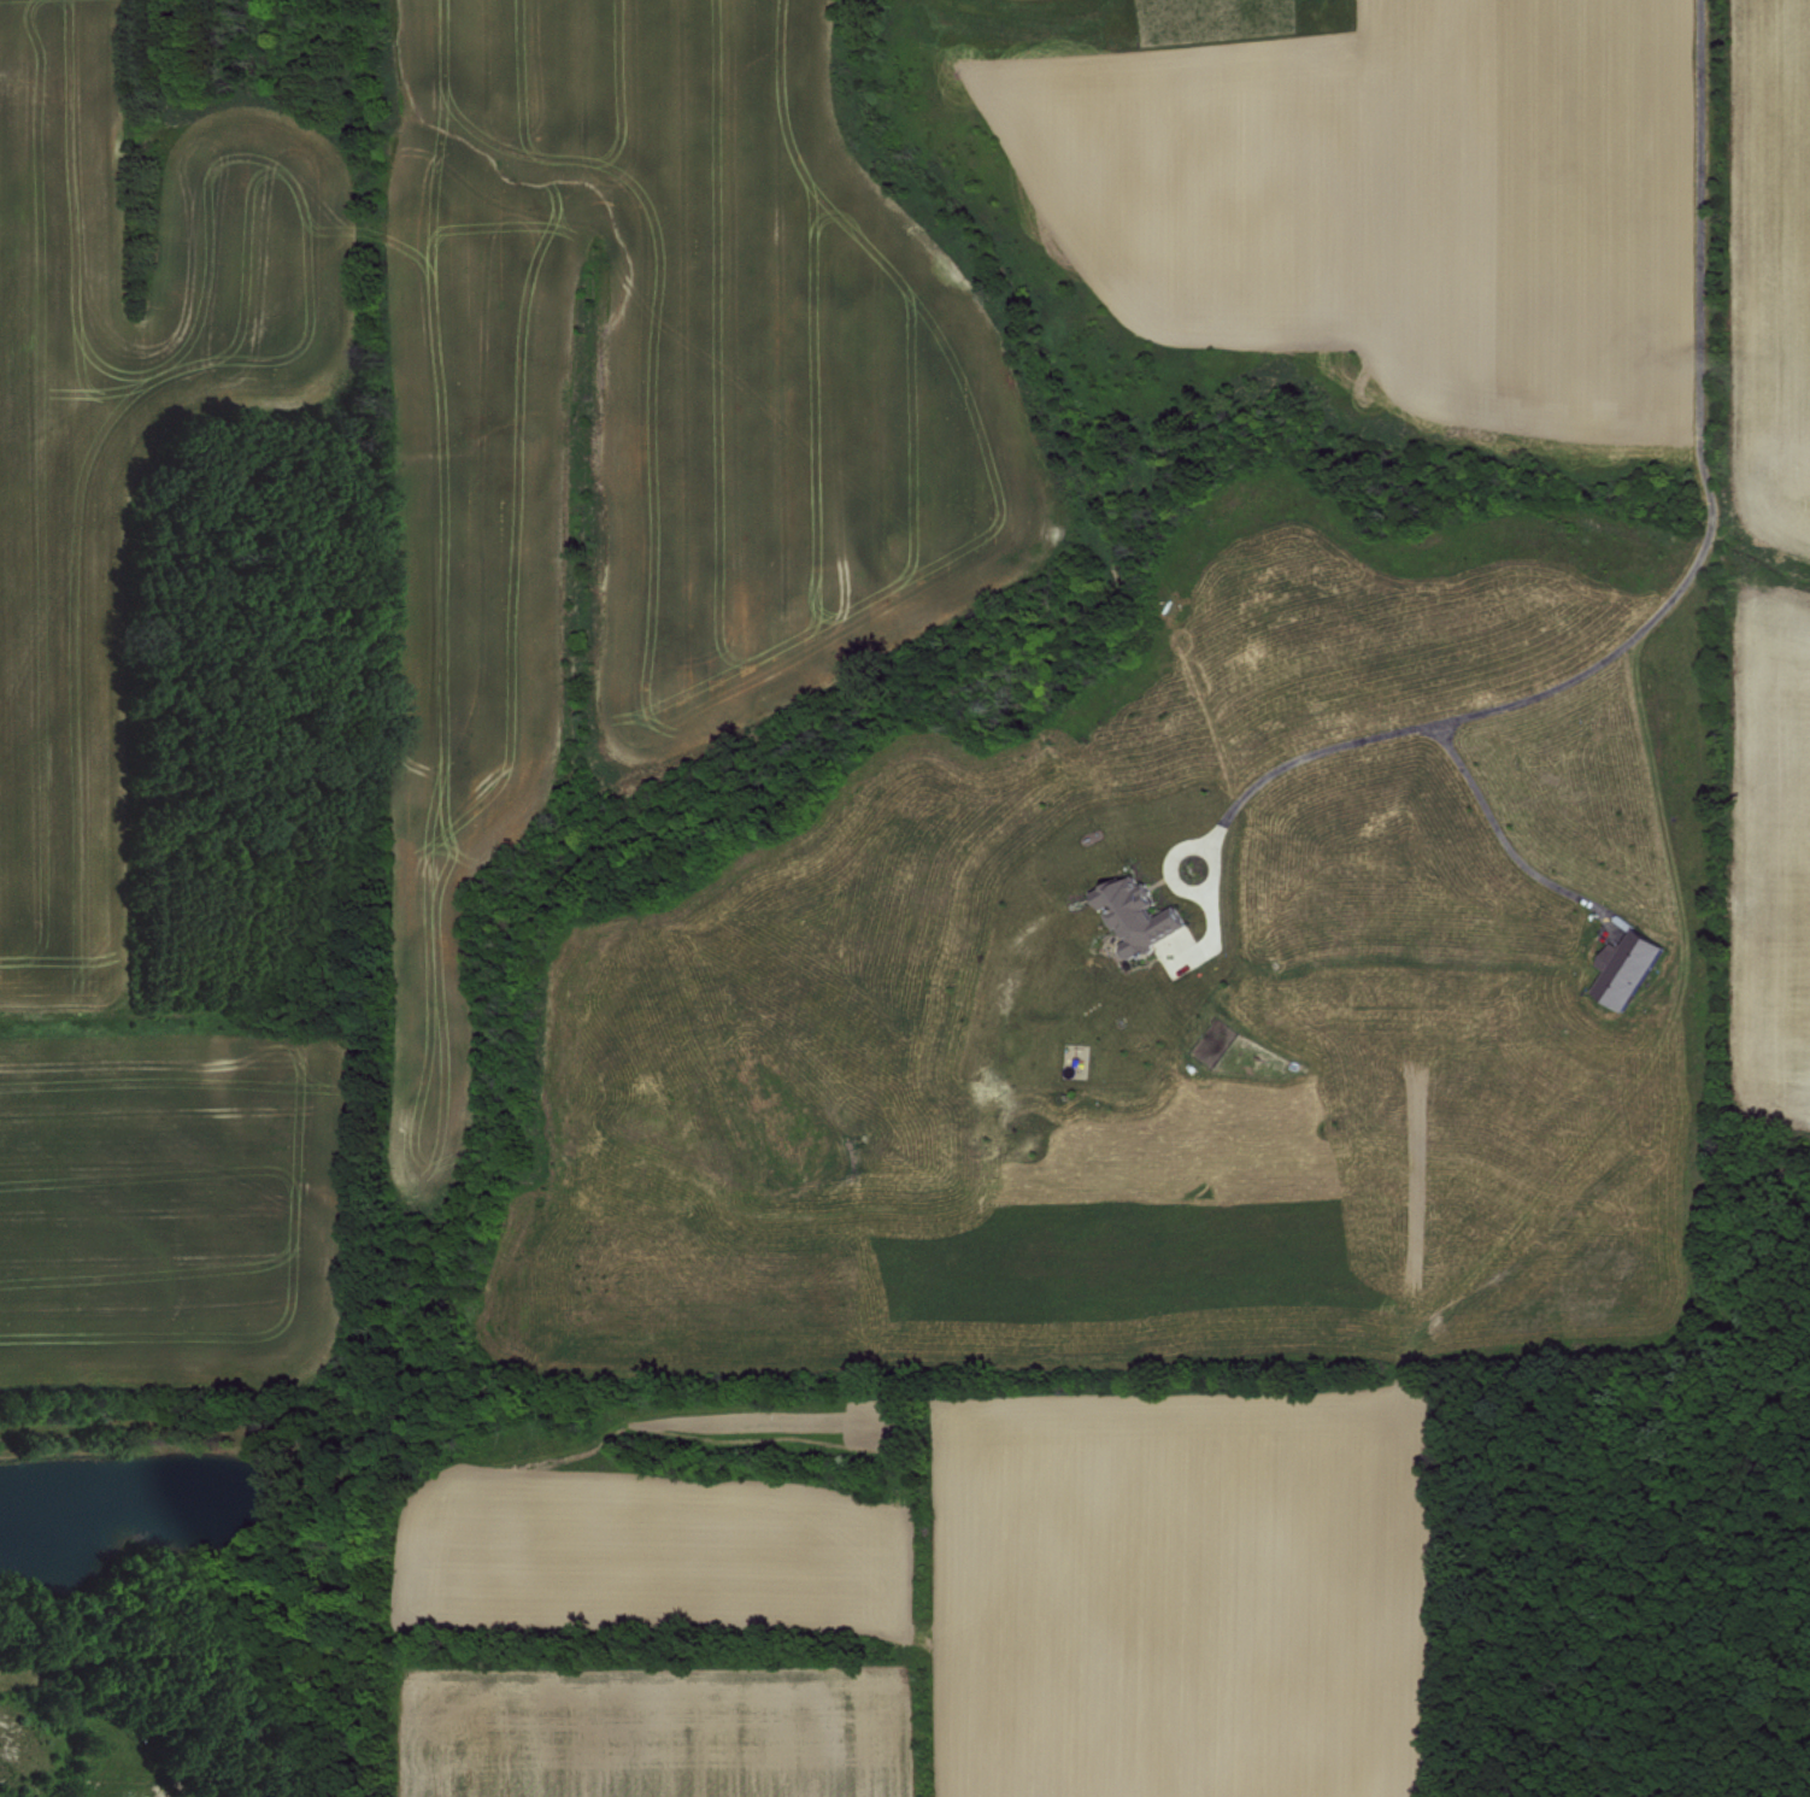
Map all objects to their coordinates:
road: (1689, 568)
building: (1145, 926)
building: (1621, 968)

